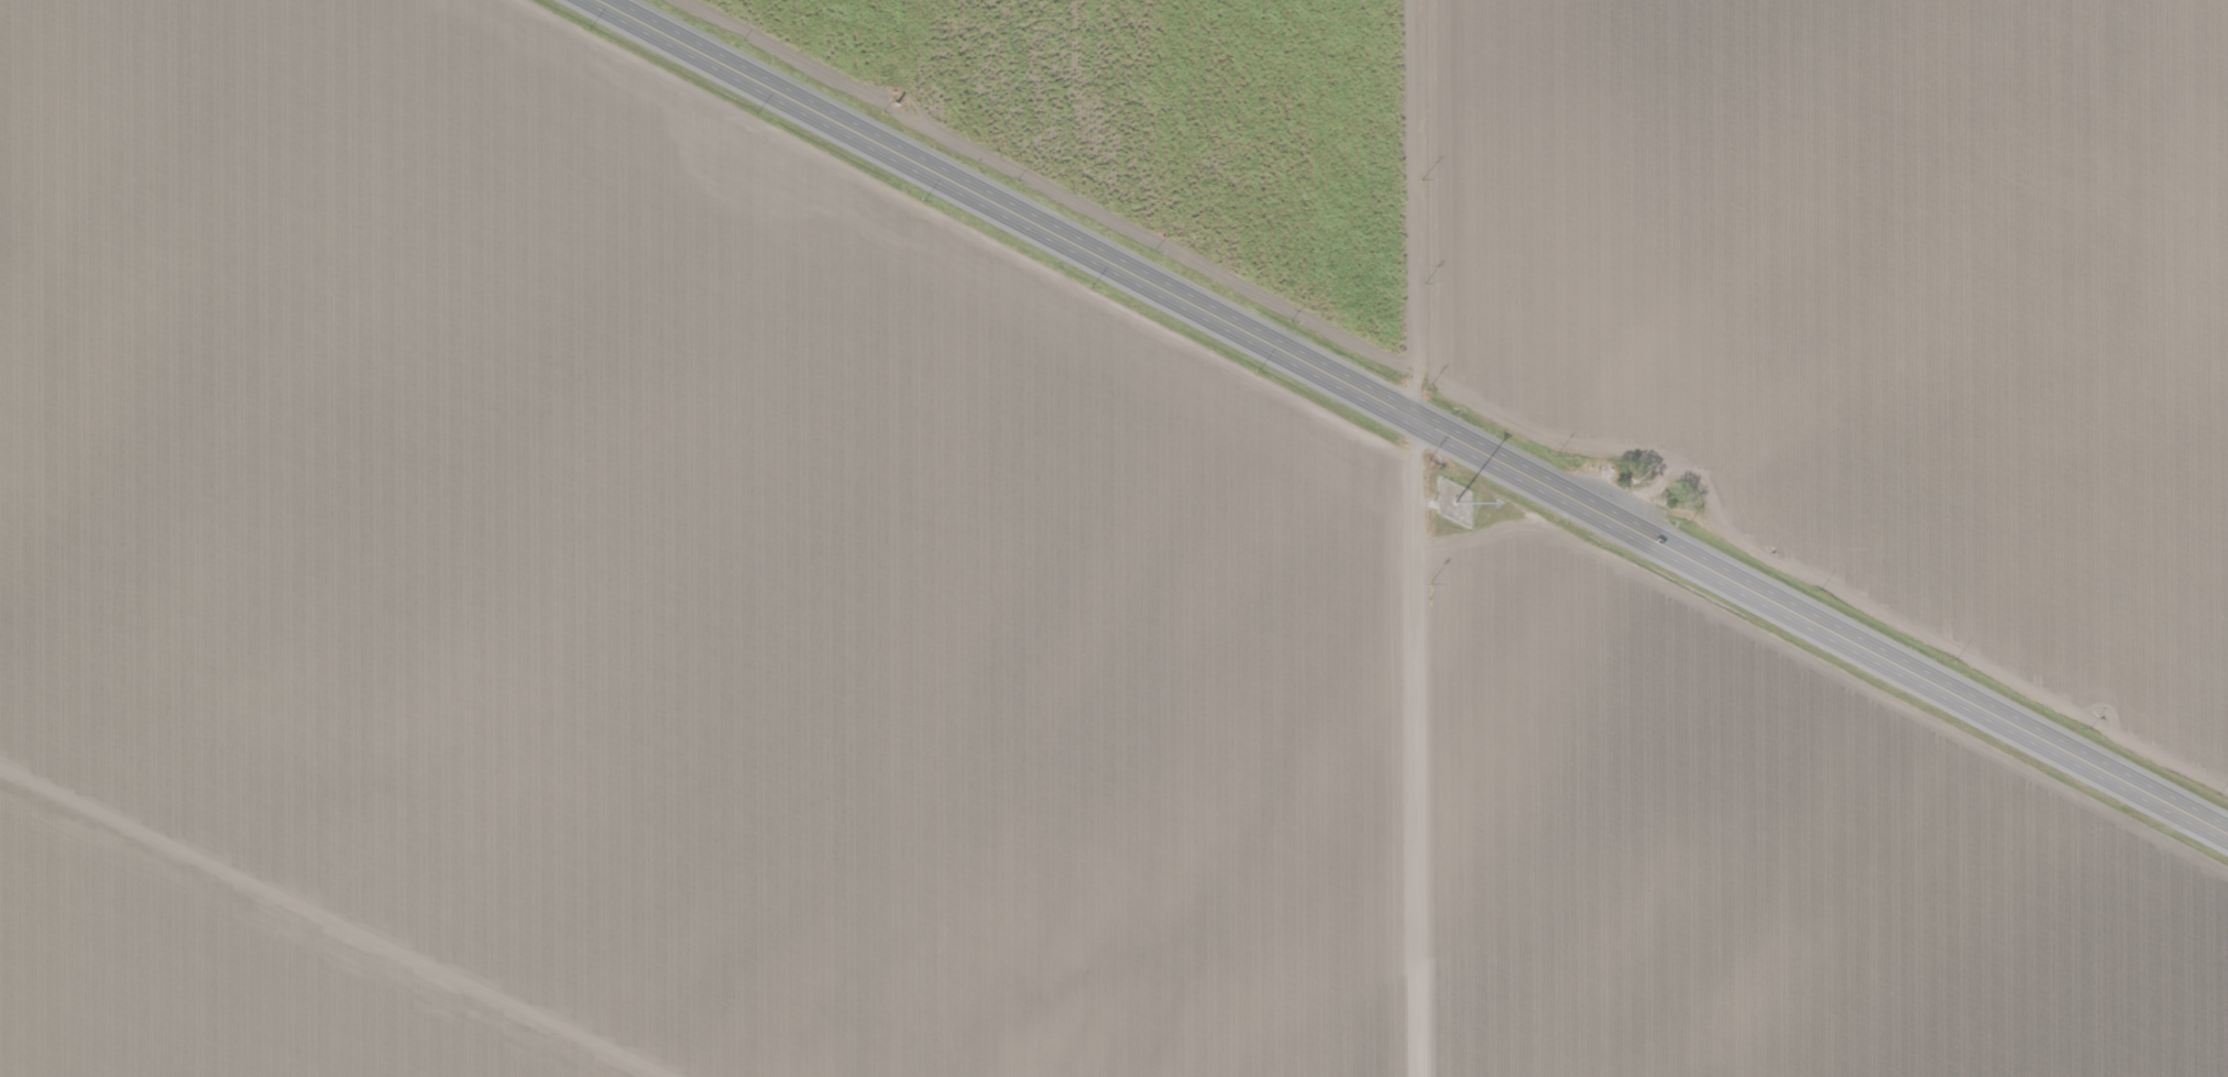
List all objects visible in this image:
road: (1406, 415)
road: (1413, 538)

